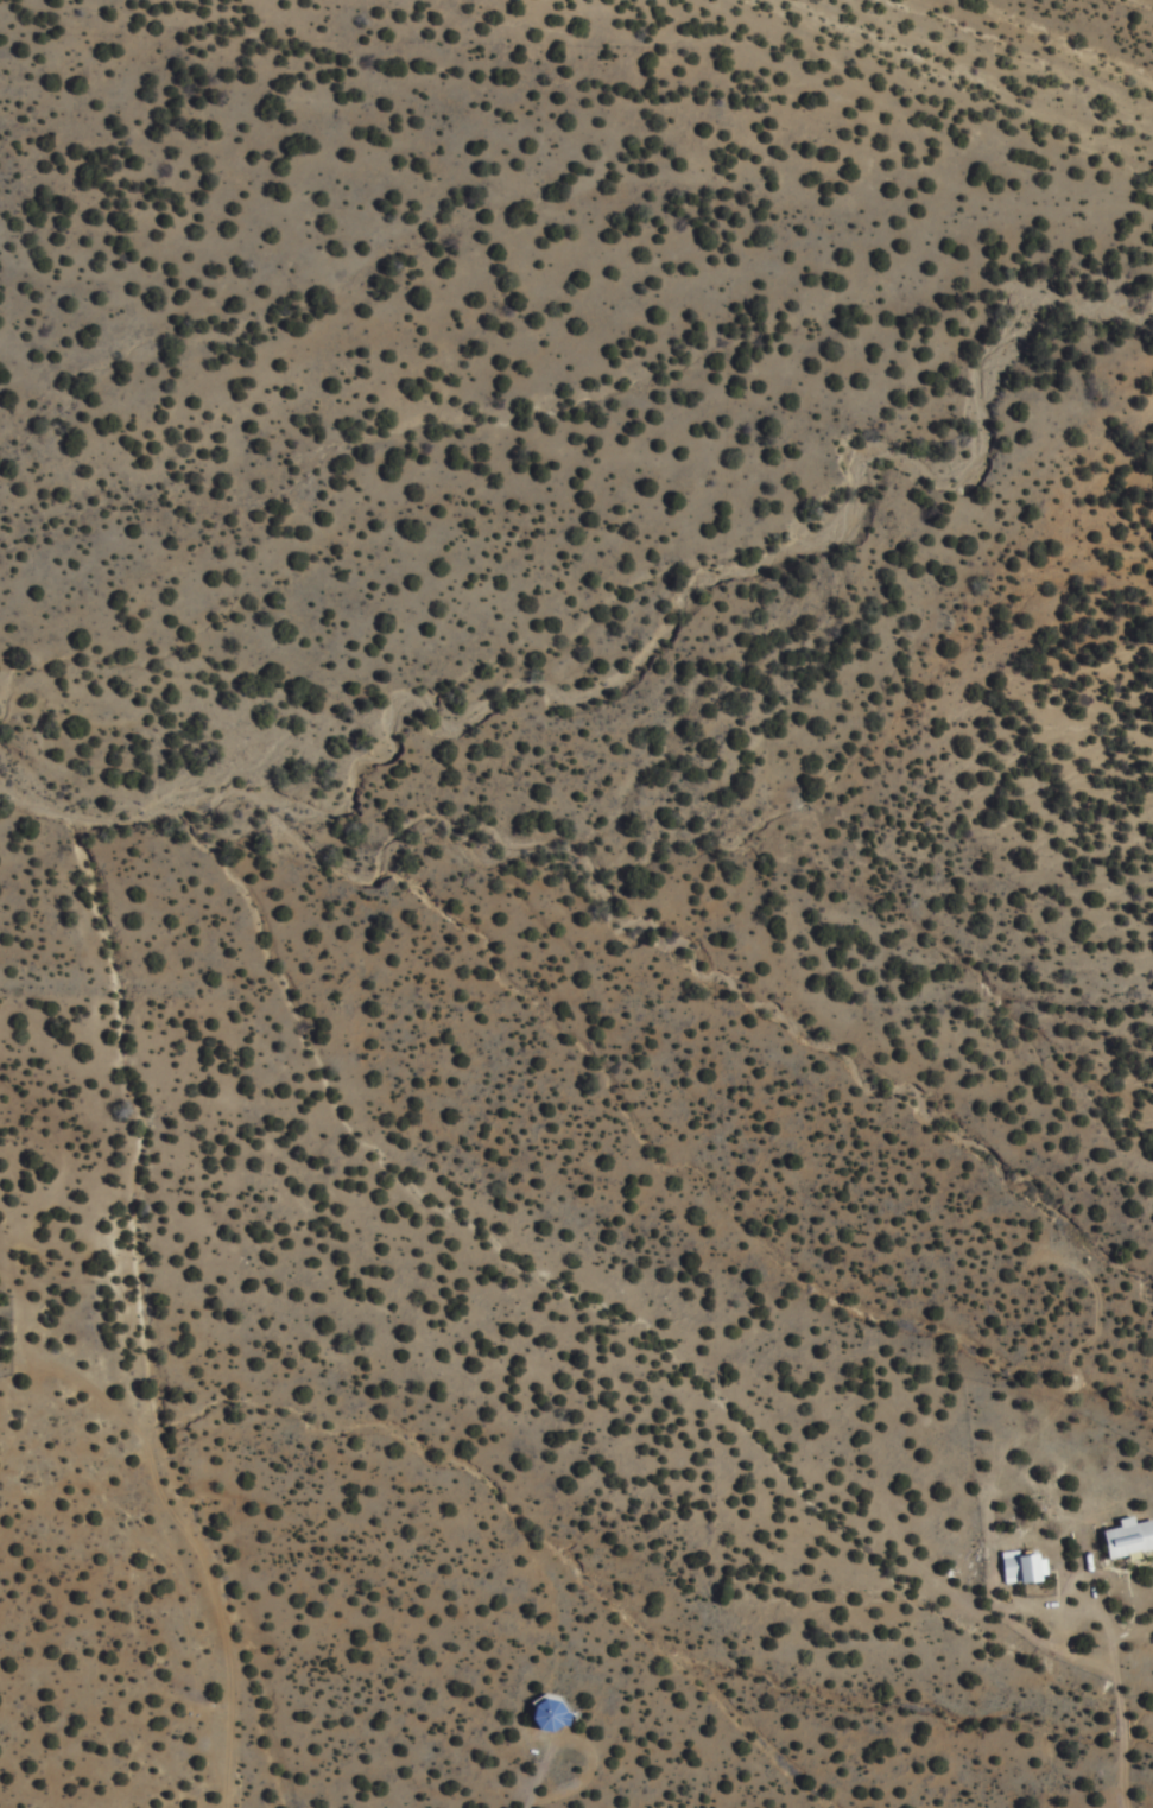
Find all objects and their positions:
building: (1132, 1537)
building: (1032, 1567)
building: (555, 1712)

